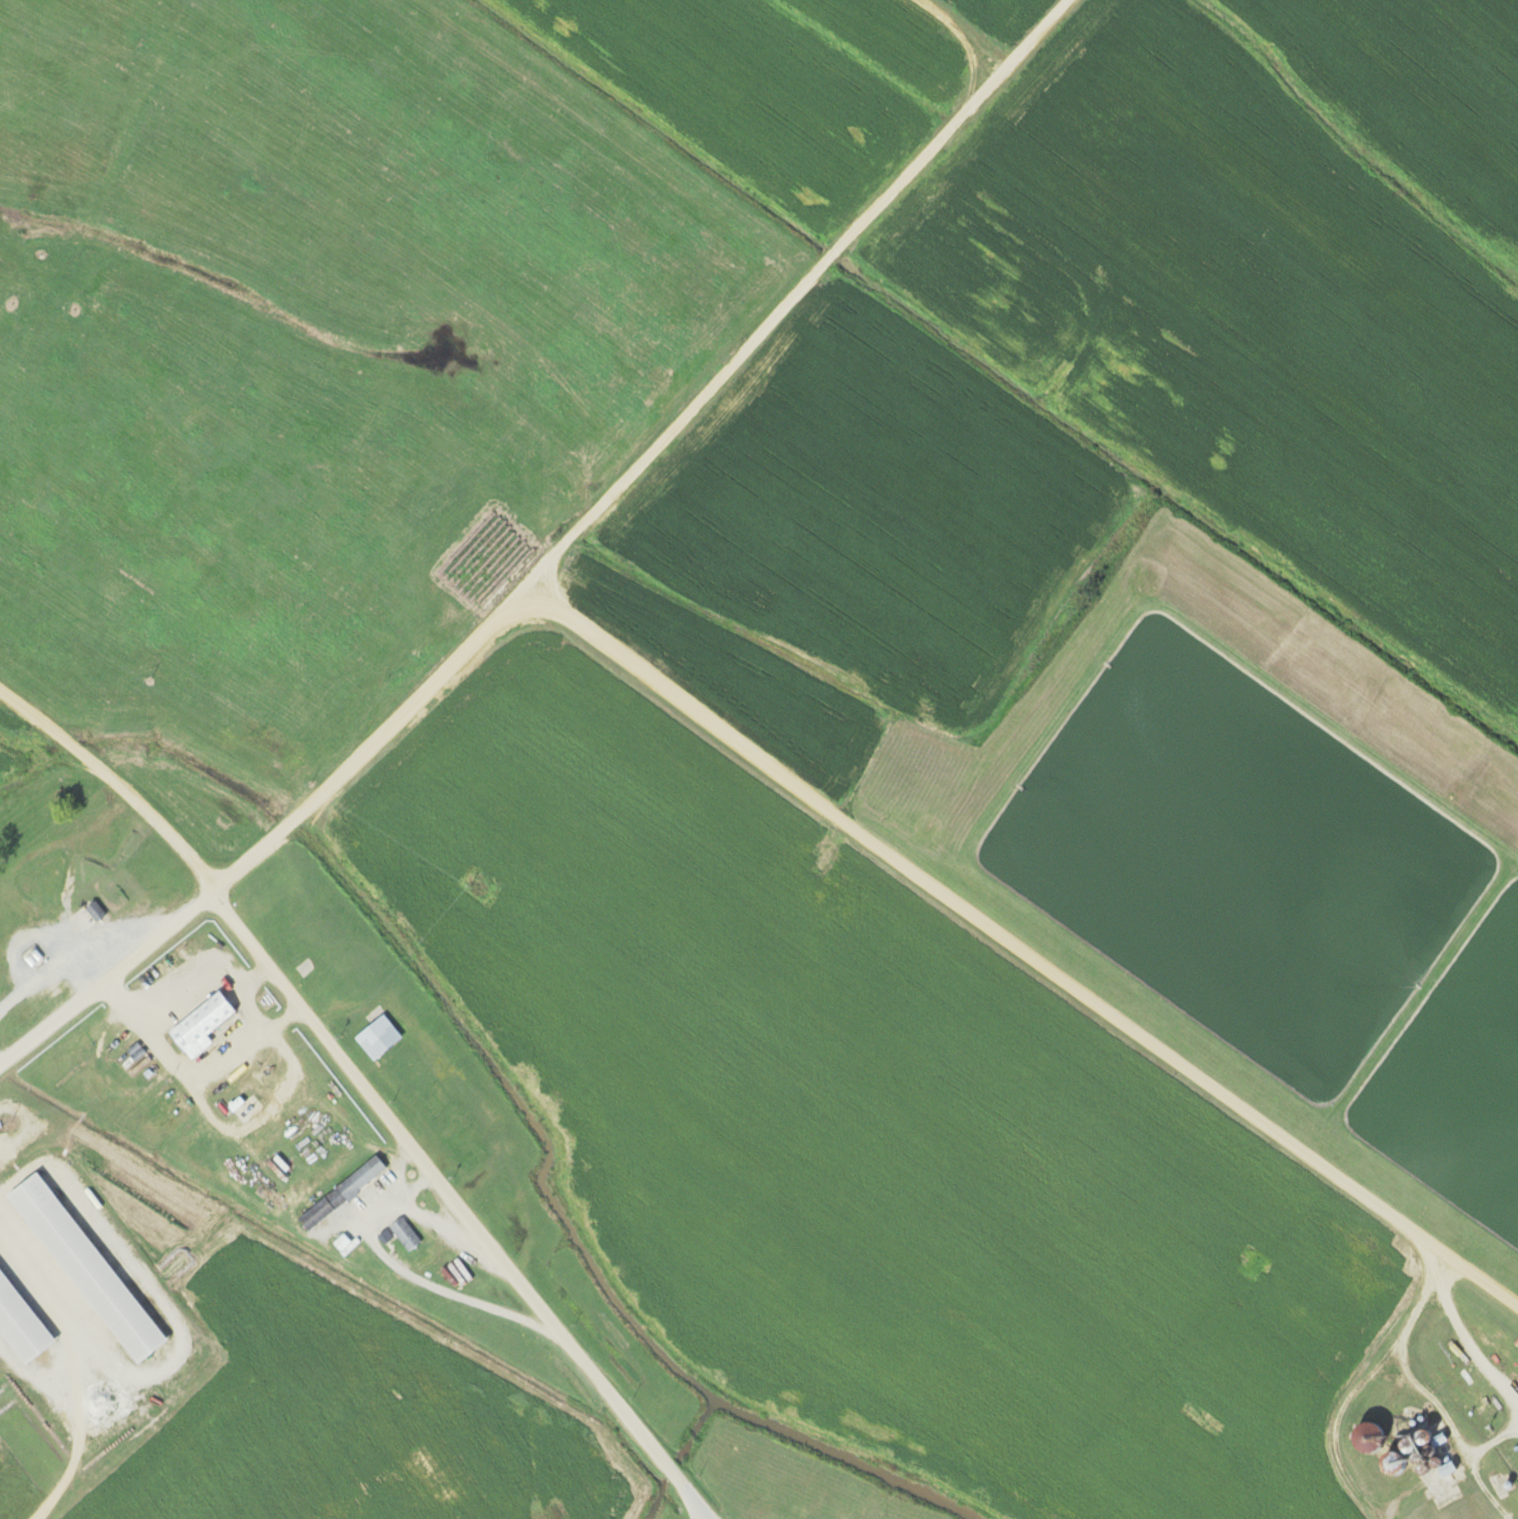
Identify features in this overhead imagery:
road: (576, 567)
building: (94, 911)
road: (1020, 967)
building: (199, 1025)
building: (376, 1037)
building: (135, 1051)
road: (369, 1089)
building: (341, 1193)
road: (410, 1201)
building: (404, 1234)
building: (384, 1237)
building: (347, 1246)
building: (84, 1269)
road: (409, 1270)
building: (19, 1327)
road: (1463, 1335)
building: (1392, 1442)
road: (1472, 1463)

